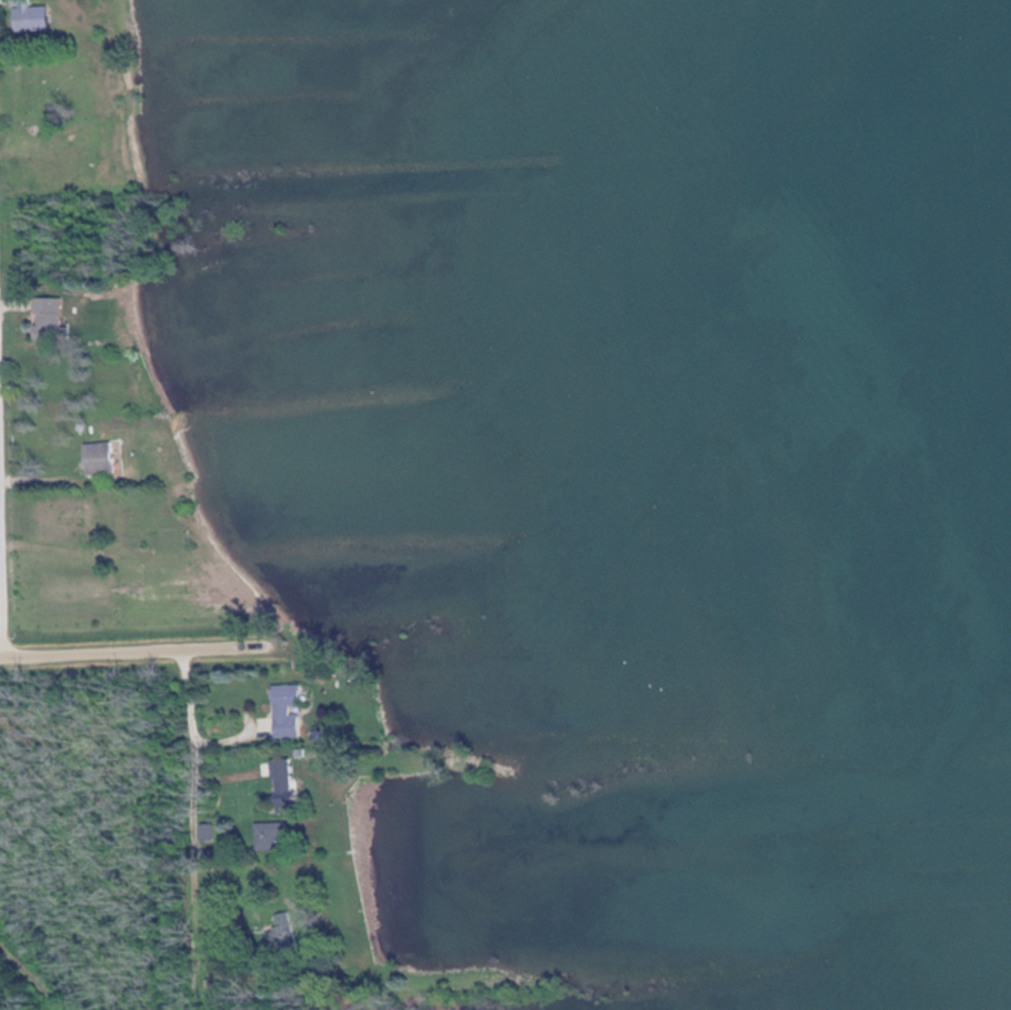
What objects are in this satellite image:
building: (38, 15)
building: (58, 316)
building: (110, 456)
road: (131, 649)
building: (299, 709)
road: (192, 779)
building: (296, 783)
building: (281, 835)
building: (294, 930)
road: (36, 969)

